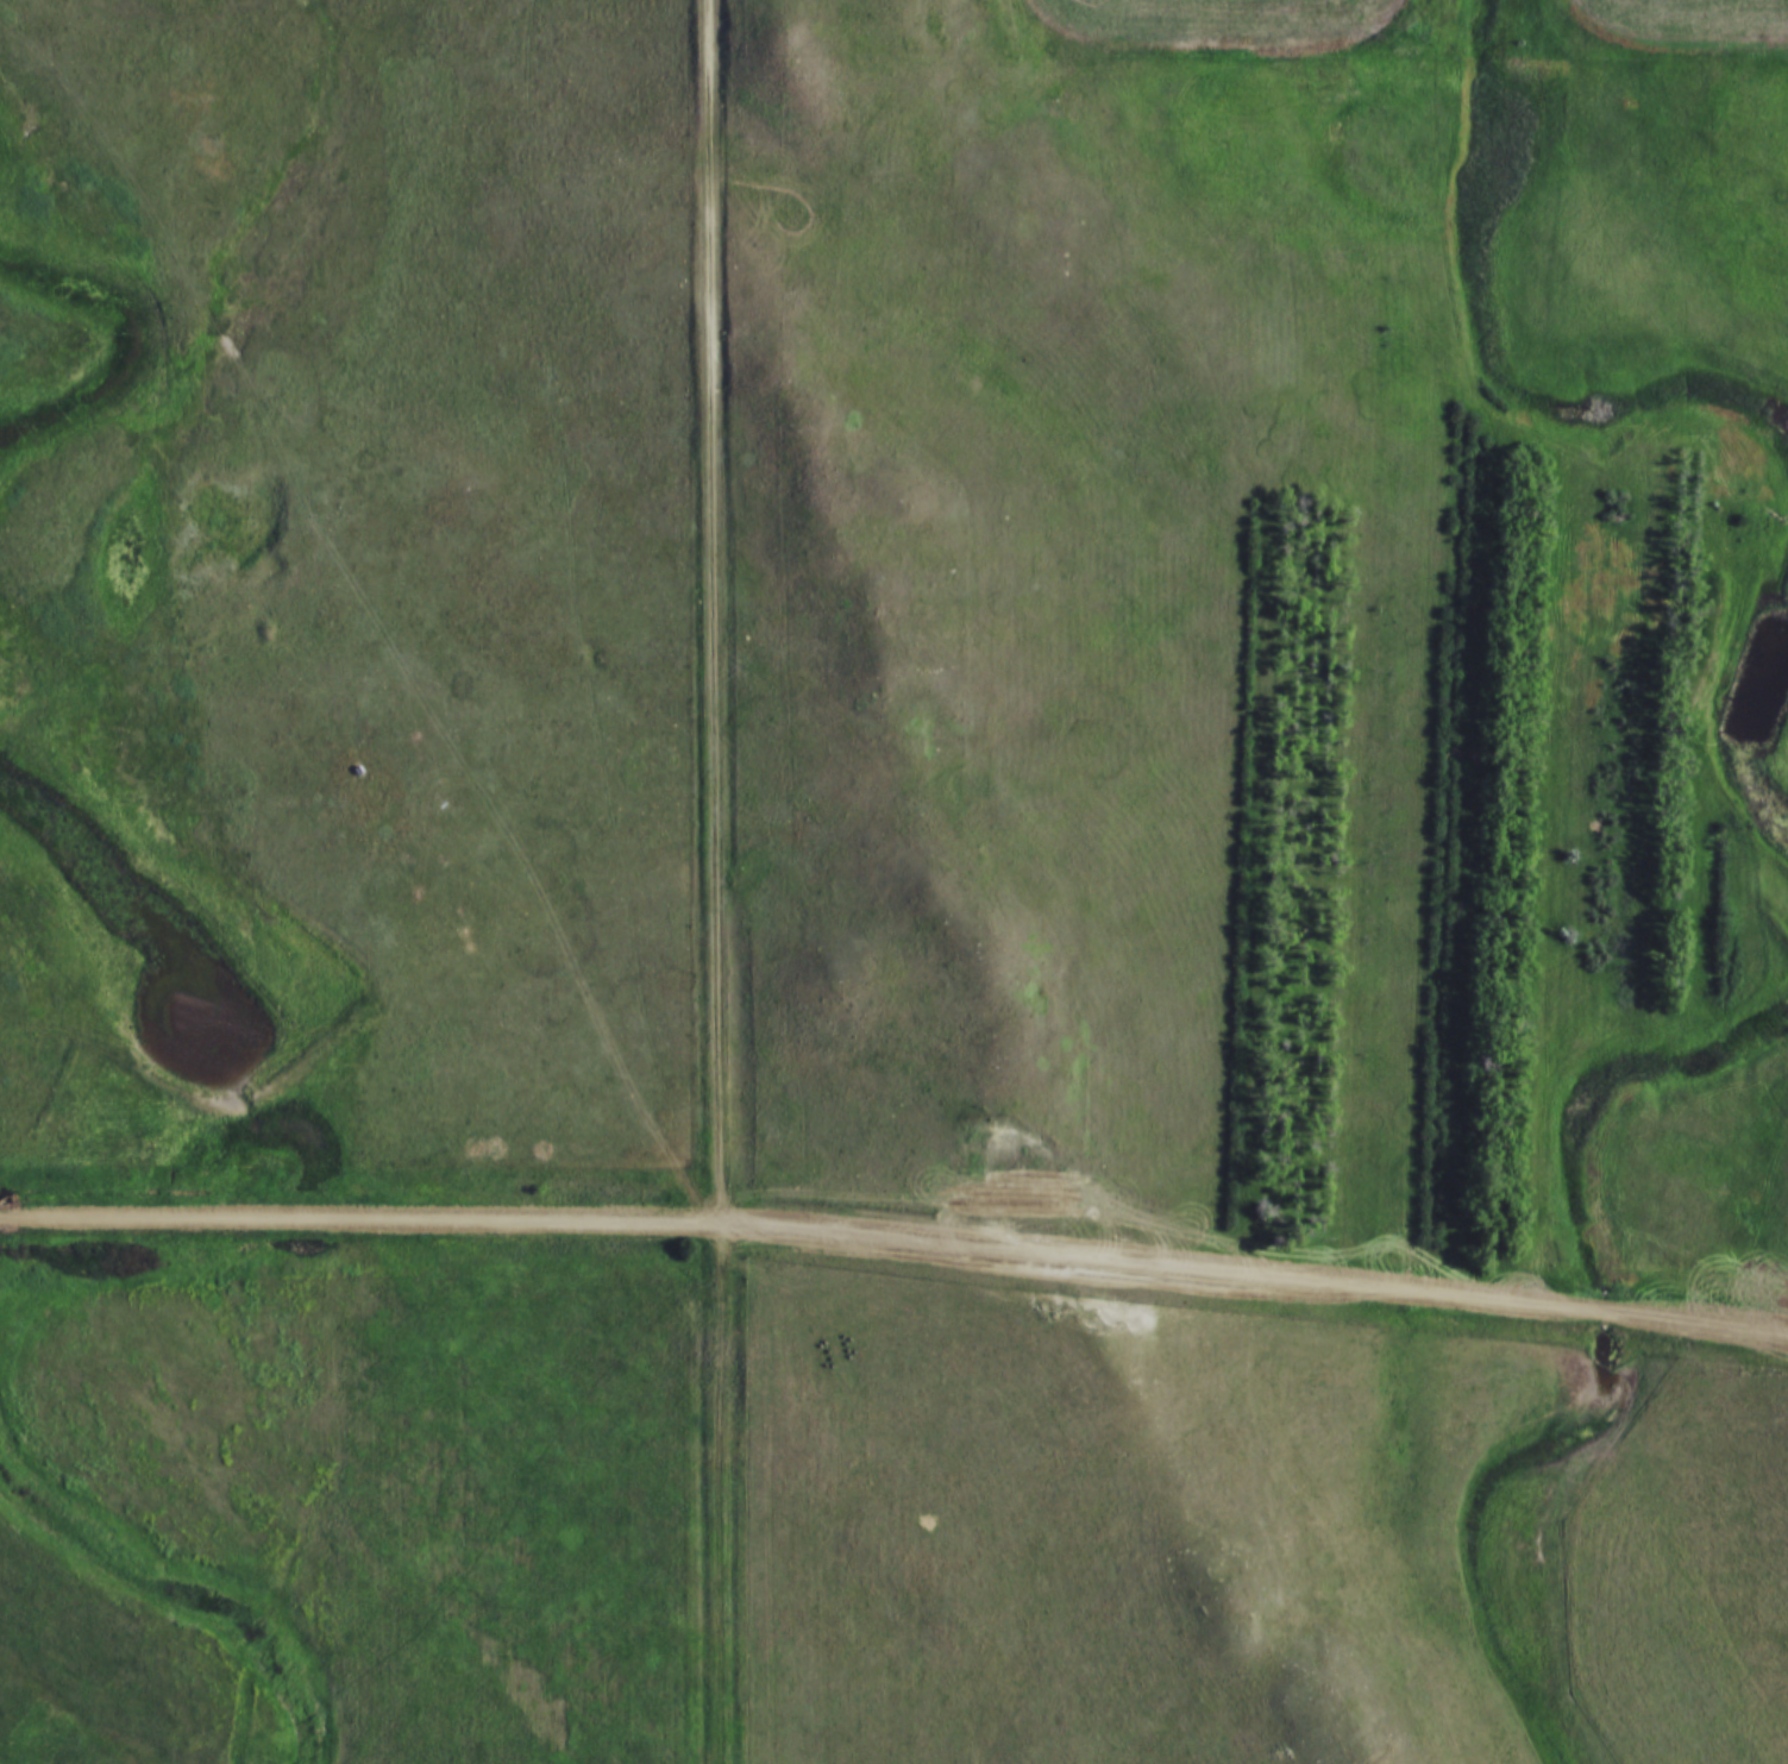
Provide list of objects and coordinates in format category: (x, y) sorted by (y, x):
road: (716, 881)
road: (896, 1232)

